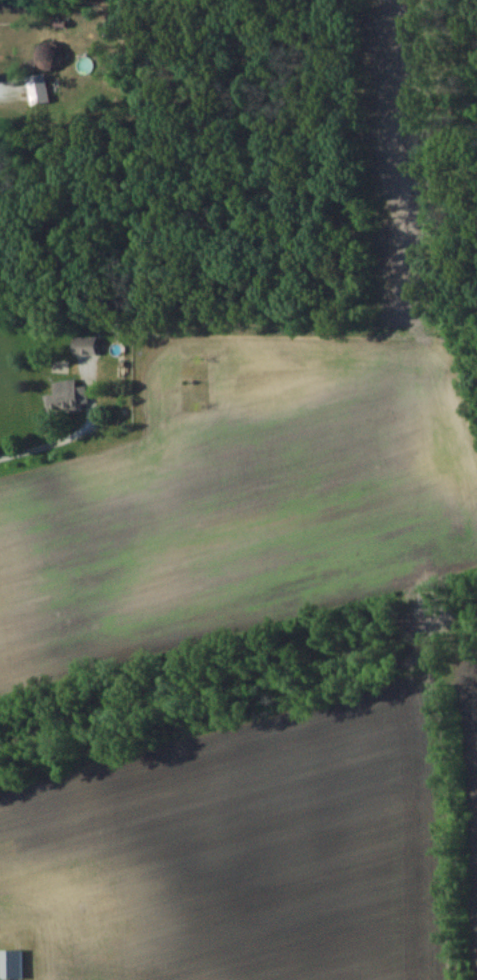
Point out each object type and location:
building: (44, 59)
building: (85, 64)
building: (82, 346)
building: (64, 396)
building: (9, 964)

